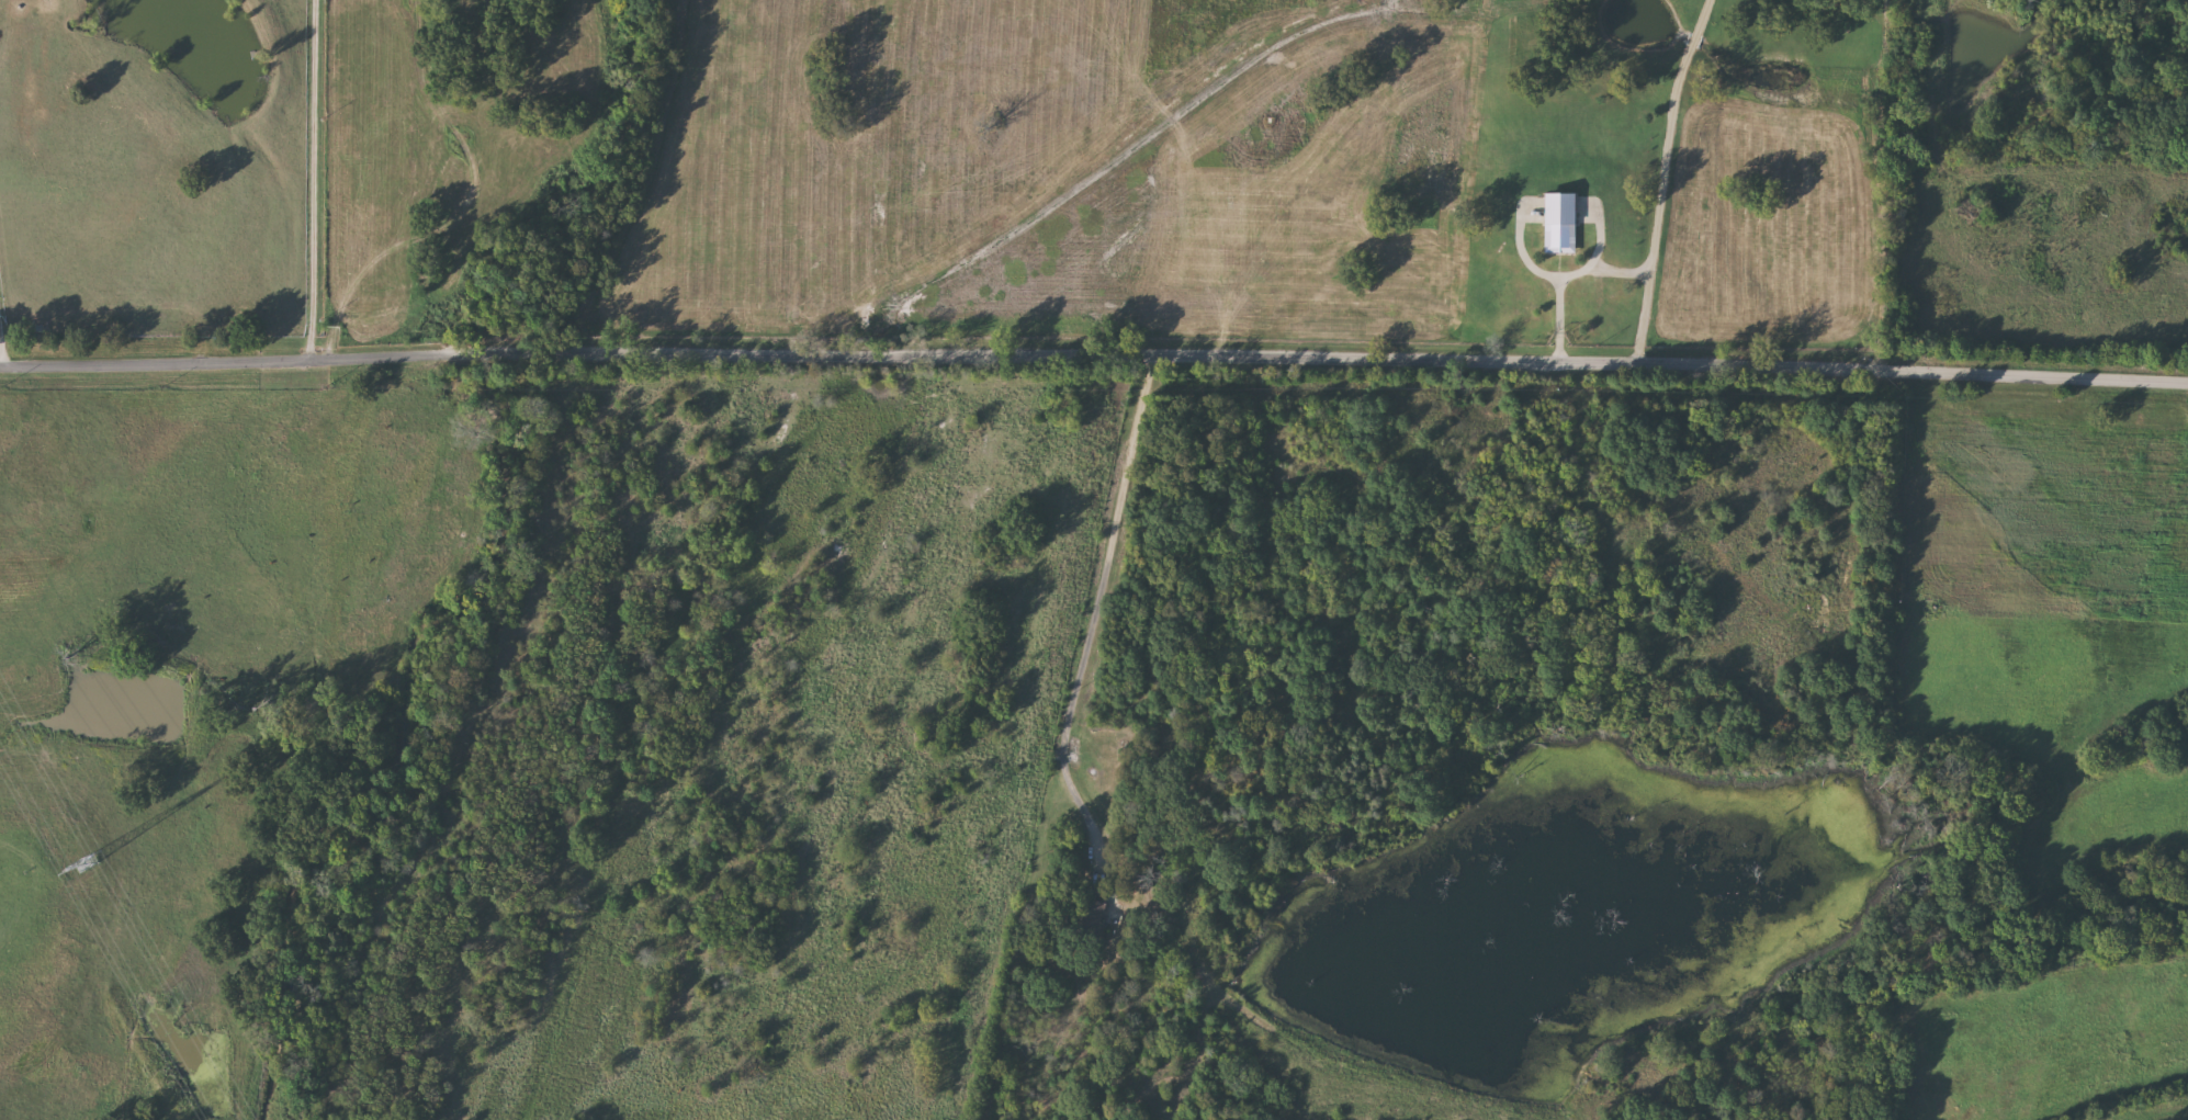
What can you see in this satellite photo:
road: (1667, 140)
road: (312, 181)
road: (462, 206)
road: (1603, 274)
road: (123, 309)
road: (1094, 355)
road: (1091, 619)
power tower: (88, 860)
building: (1092, 916)

